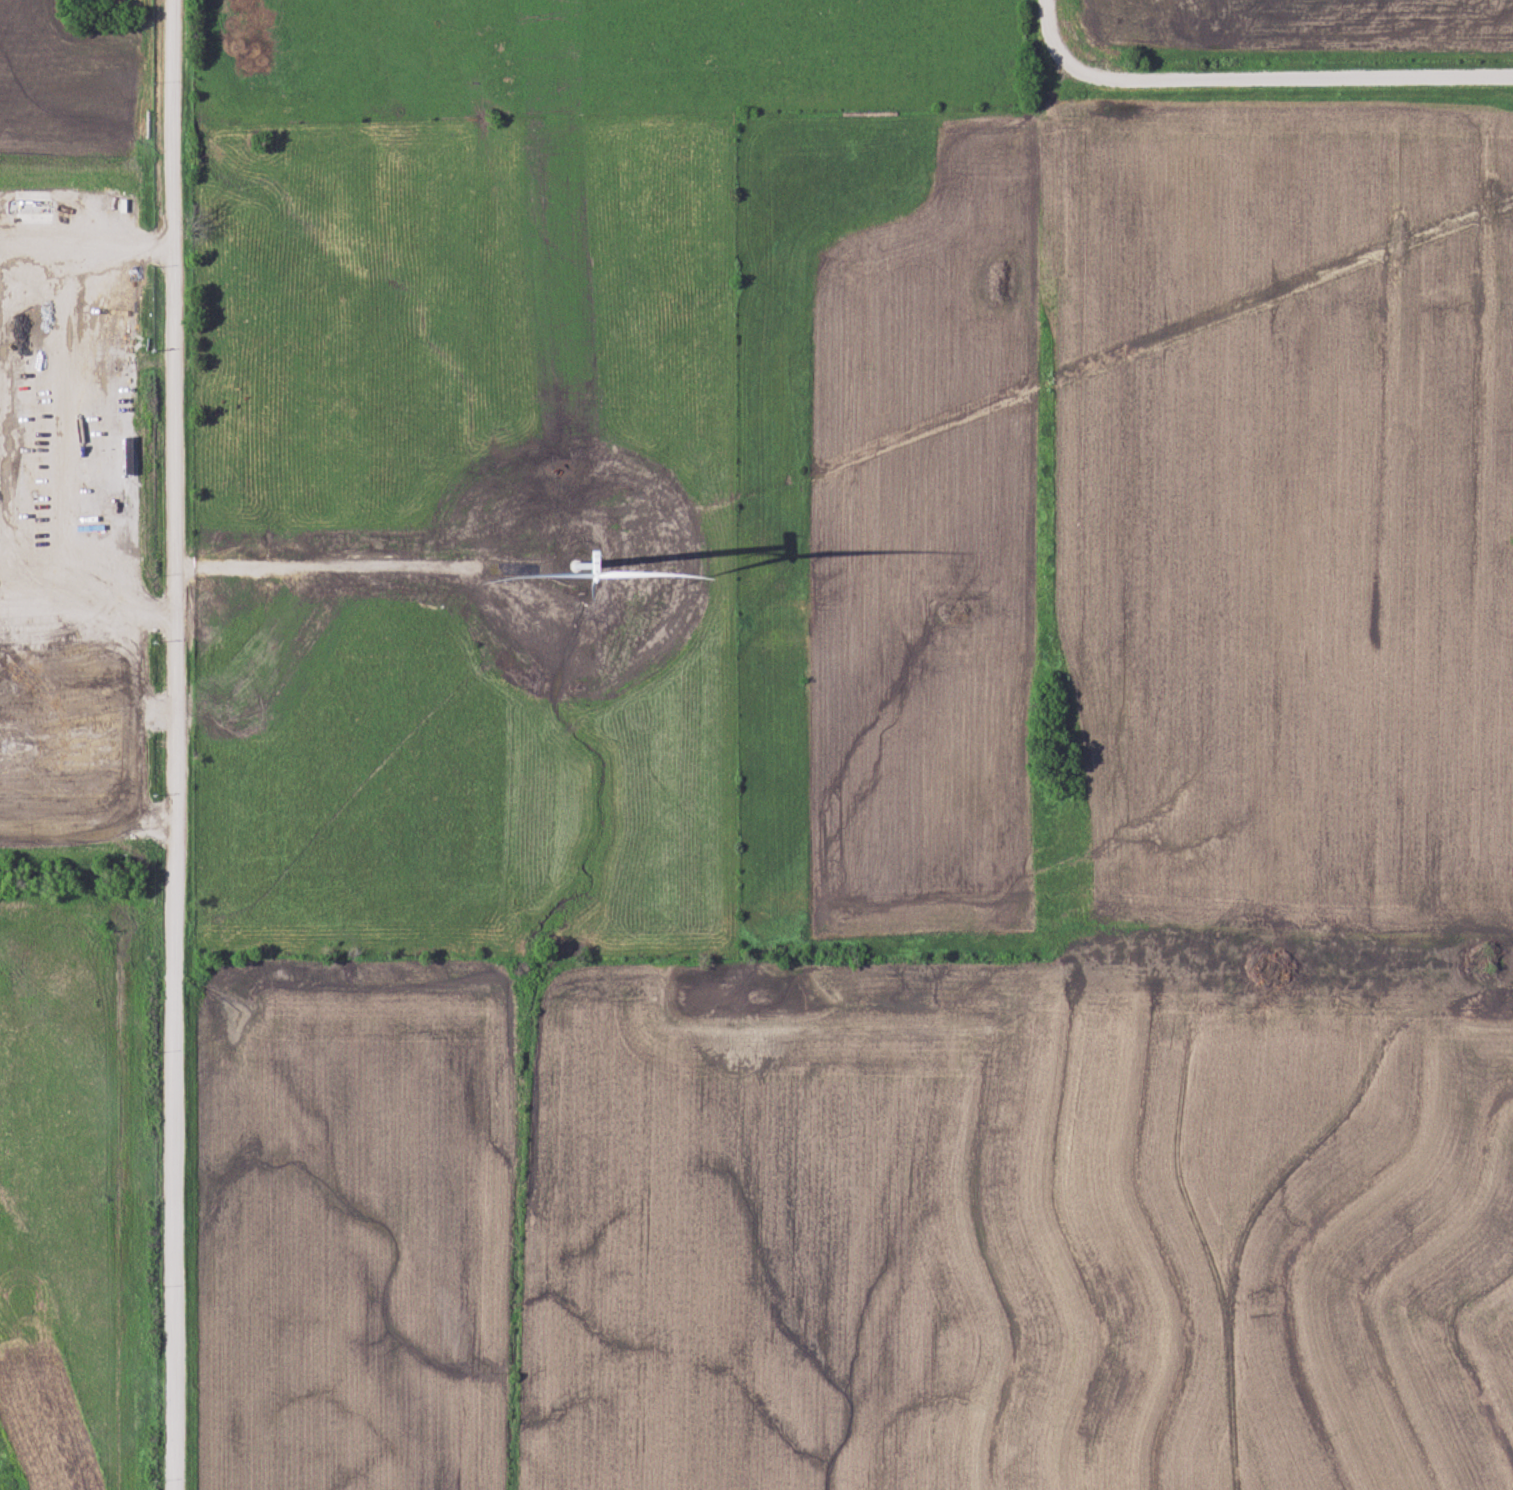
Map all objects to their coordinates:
road: (1253, 78)
wind turbine: (579, 567)
road: (171, 745)

